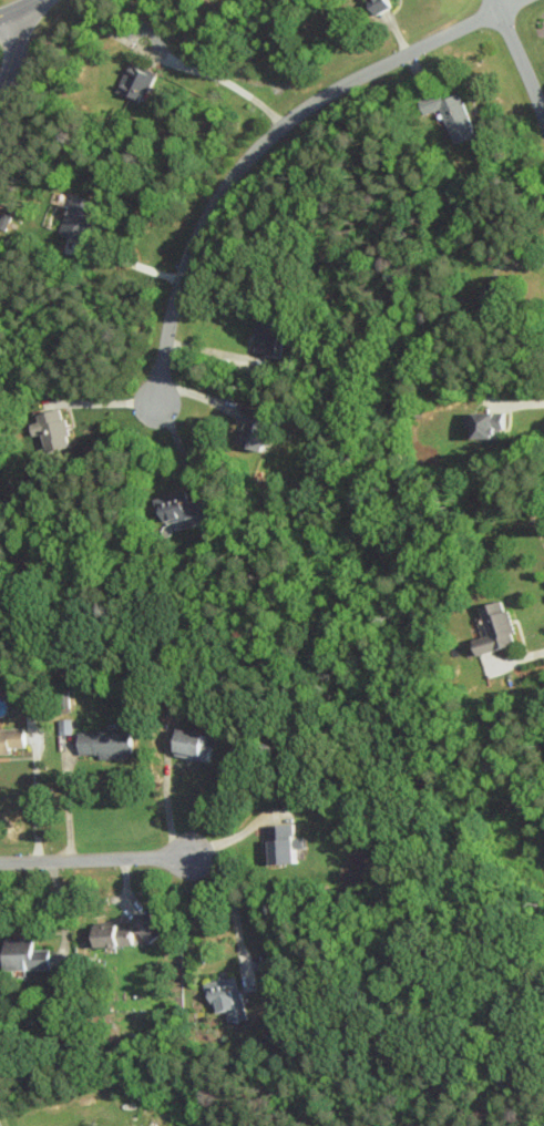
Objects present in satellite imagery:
building: (376, 6)
road: (511, 6)
road: (14, 7)
road: (13, 49)
road: (519, 60)
building: (134, 82)
road: (227, 83)
building: (450, 114)
road: (259, 150)
building: (78, 217)
road: (130, 263)
building: (491, 298)
building: (267, 339)
road: (103, 401)
building: (484, 423)
building: (50, 429)
building: (255, 429)
building: (181, 510)
building: (494, 628)
road: (520, 657)
building: (64, 726)
building: (10, 739)
building: (104, 743)
building: (192, 745)
road: (165, 792)
road: (65, 803)
road: (35, 808)
road: (239, 832)
building: (281, 843)
road: (94, 859)
road: (229, 902)
road: (62, 908)
building: (145, 928)
building: (111, 935)
building: (23, 955)
building: (225, 996)

